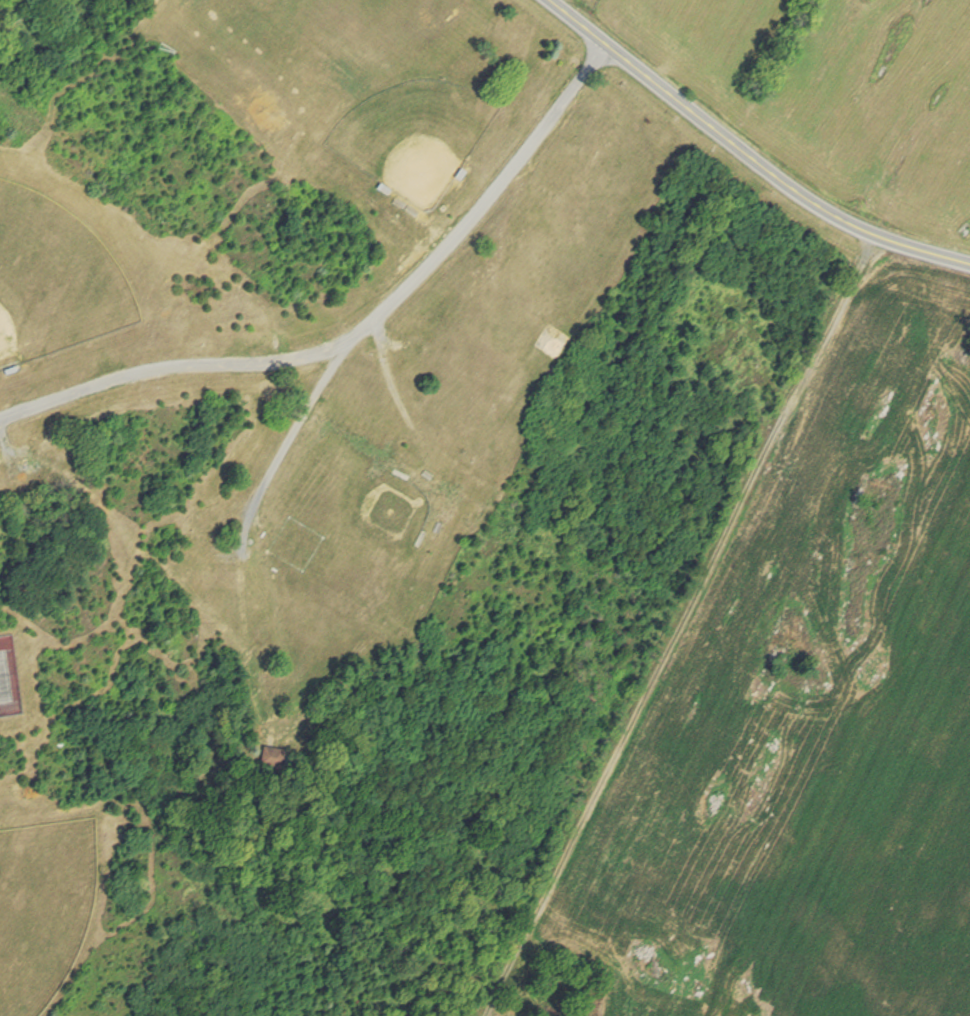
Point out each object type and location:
park: (251, 49)
park: (411, 137)
road: (751, 147)
road: (418, 272)
park: (52, 280)
road: (291, 355)
road: (117, 378)
park: (346, 475)
park: (398, 511)
road: (243, 528)
road: (670, 623)
park: (7, 681)
park: (42, 908)

